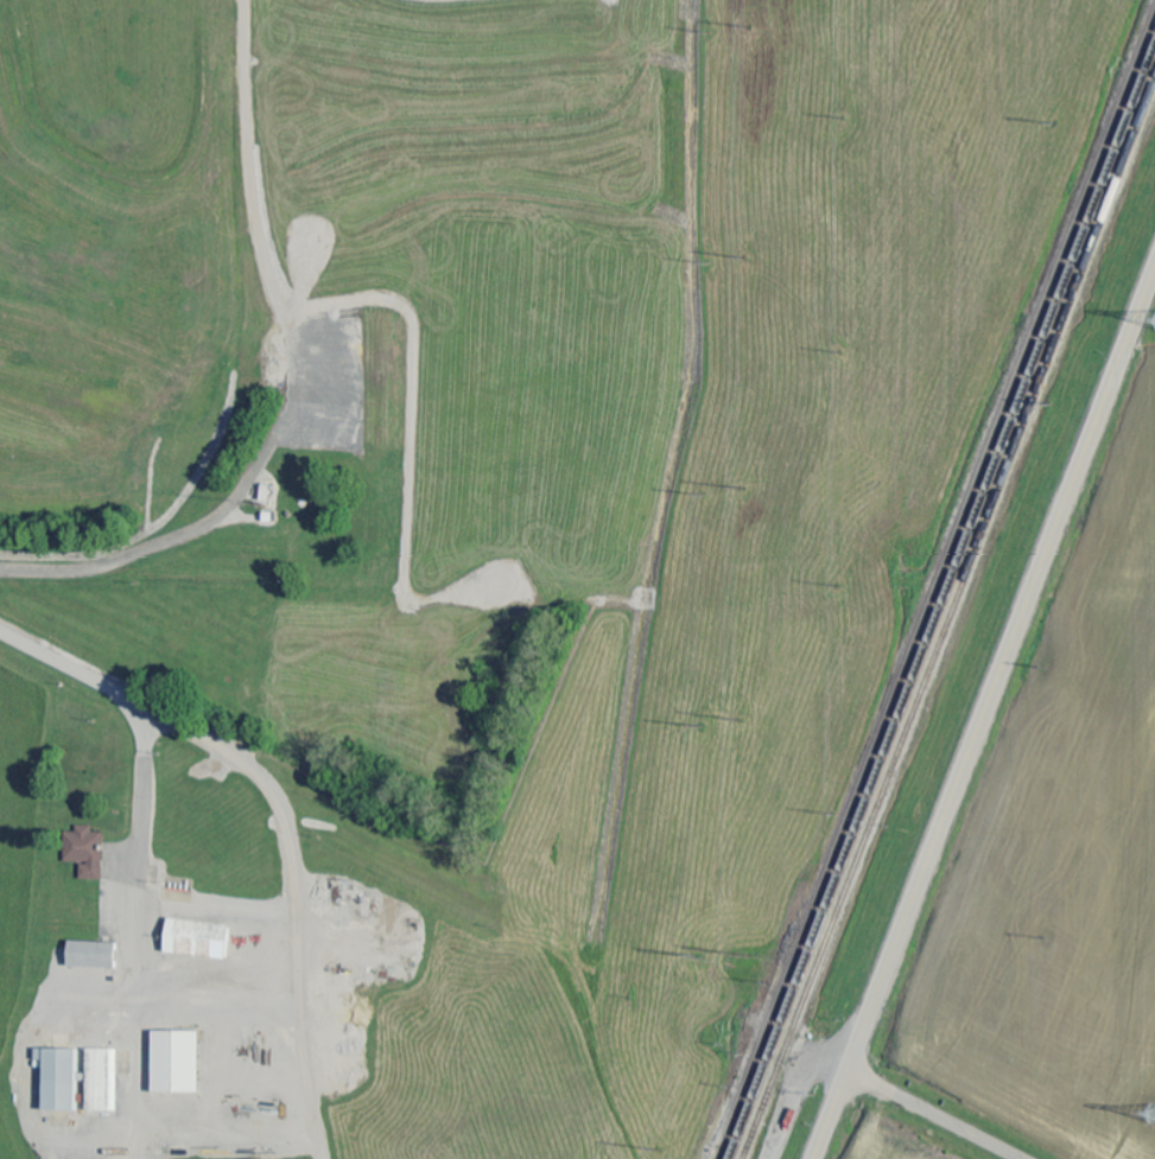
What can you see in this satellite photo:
railway: (924, 578)
road: (148, 706)
road: (985, 717)
building: (89, 851)
building: (201, 938)
building: (95, 954)
building: (179, 1062)
building: (62, 1078)
building: (104, 1080)
road: (934, 1115)

